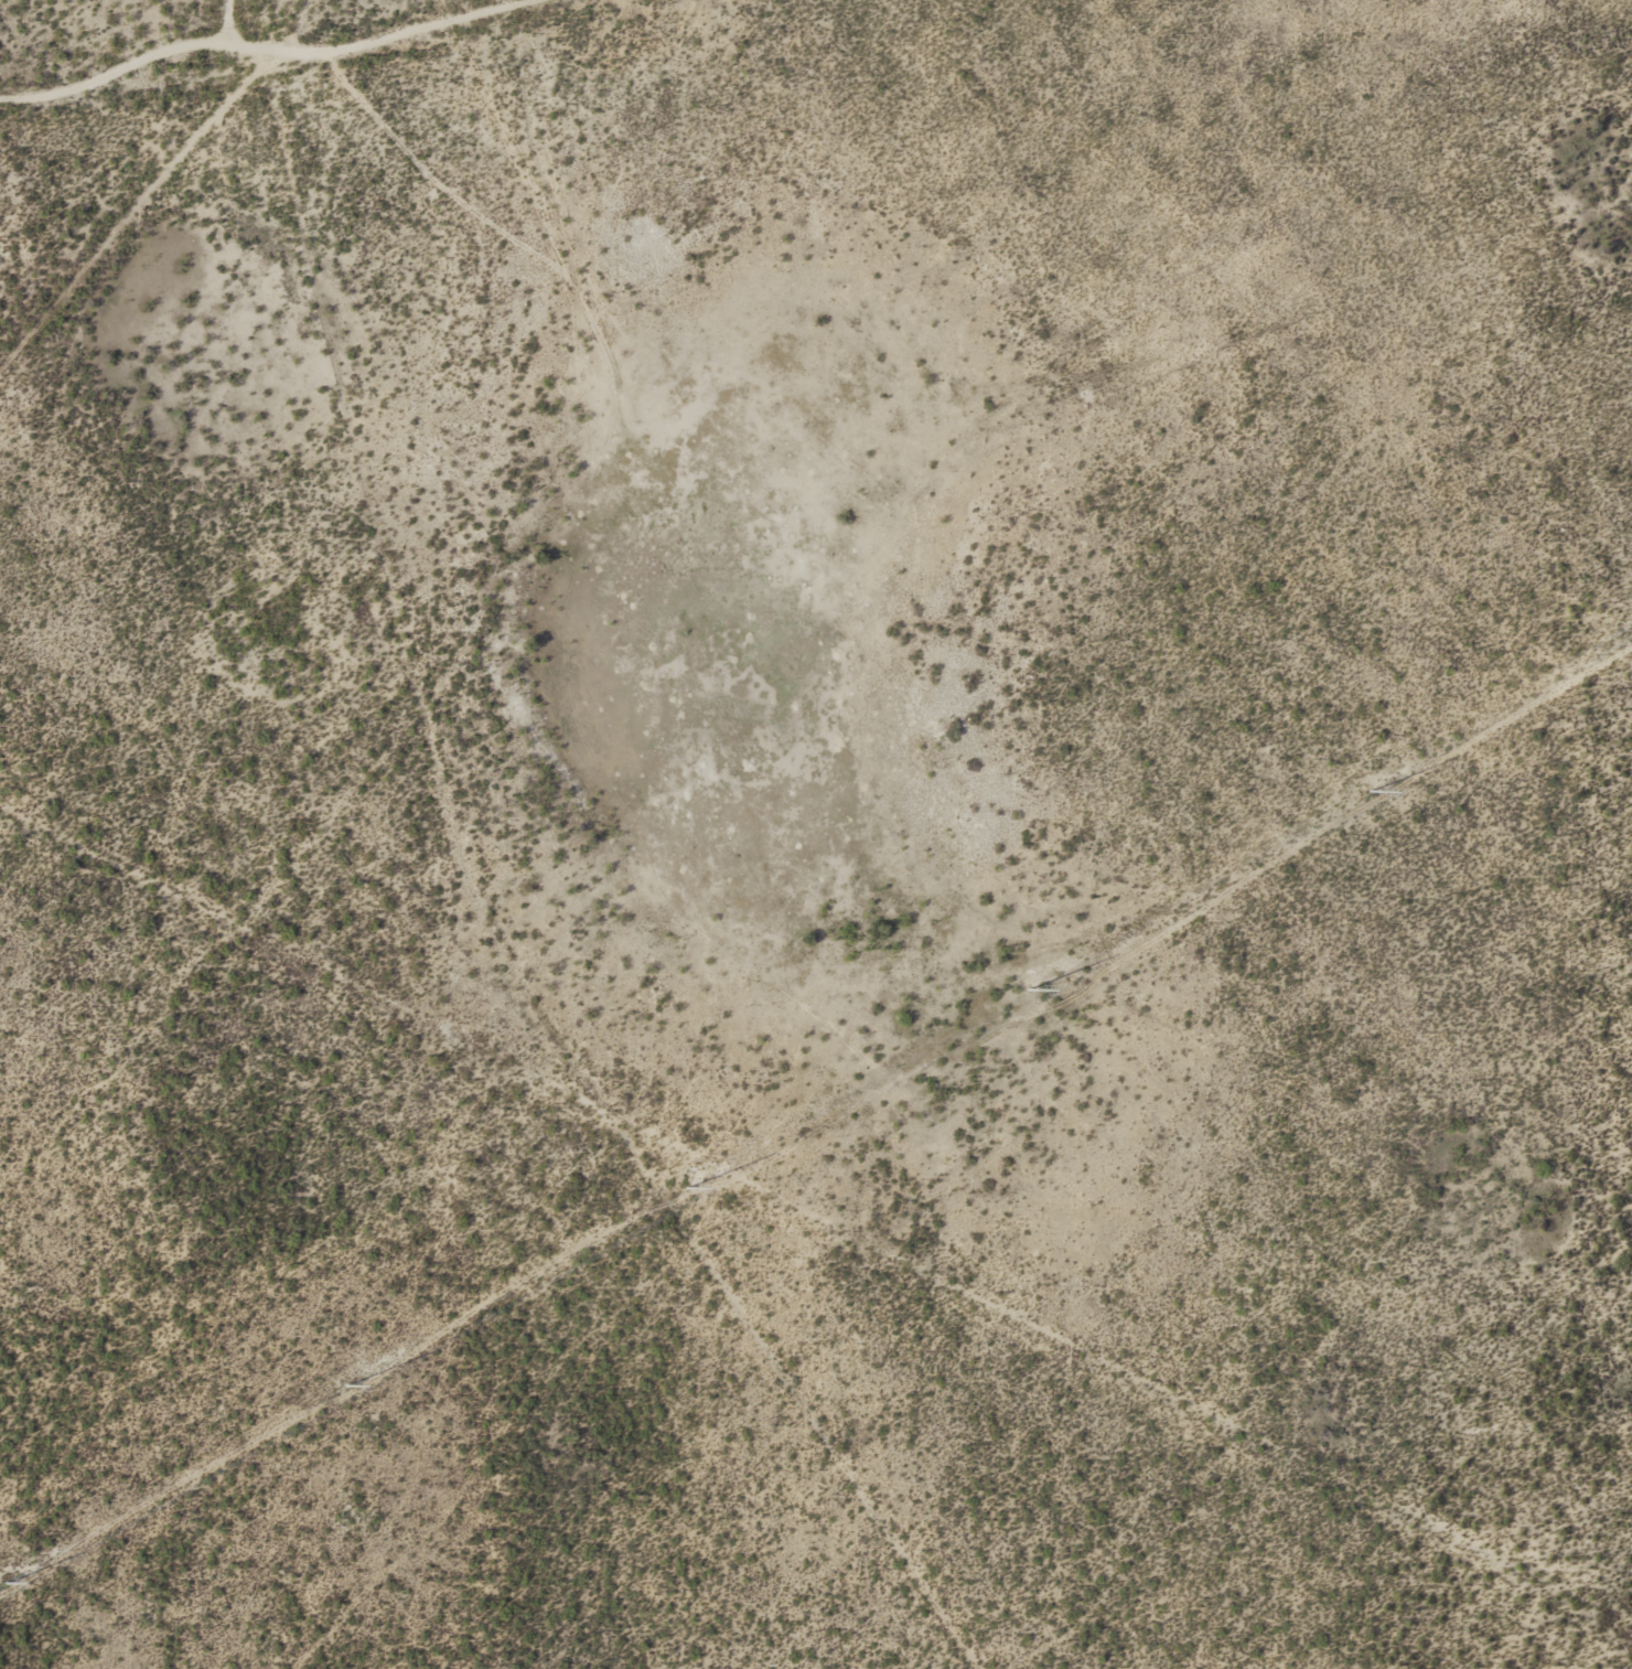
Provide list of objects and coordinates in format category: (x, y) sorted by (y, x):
road: (235, 21)
road: (273, 51)
power tower: (1370, 791)
power tower: (1030, 986)
power tower: (689, 1187)
power tower: (351, 1383)
power tower: (4, 1584)

